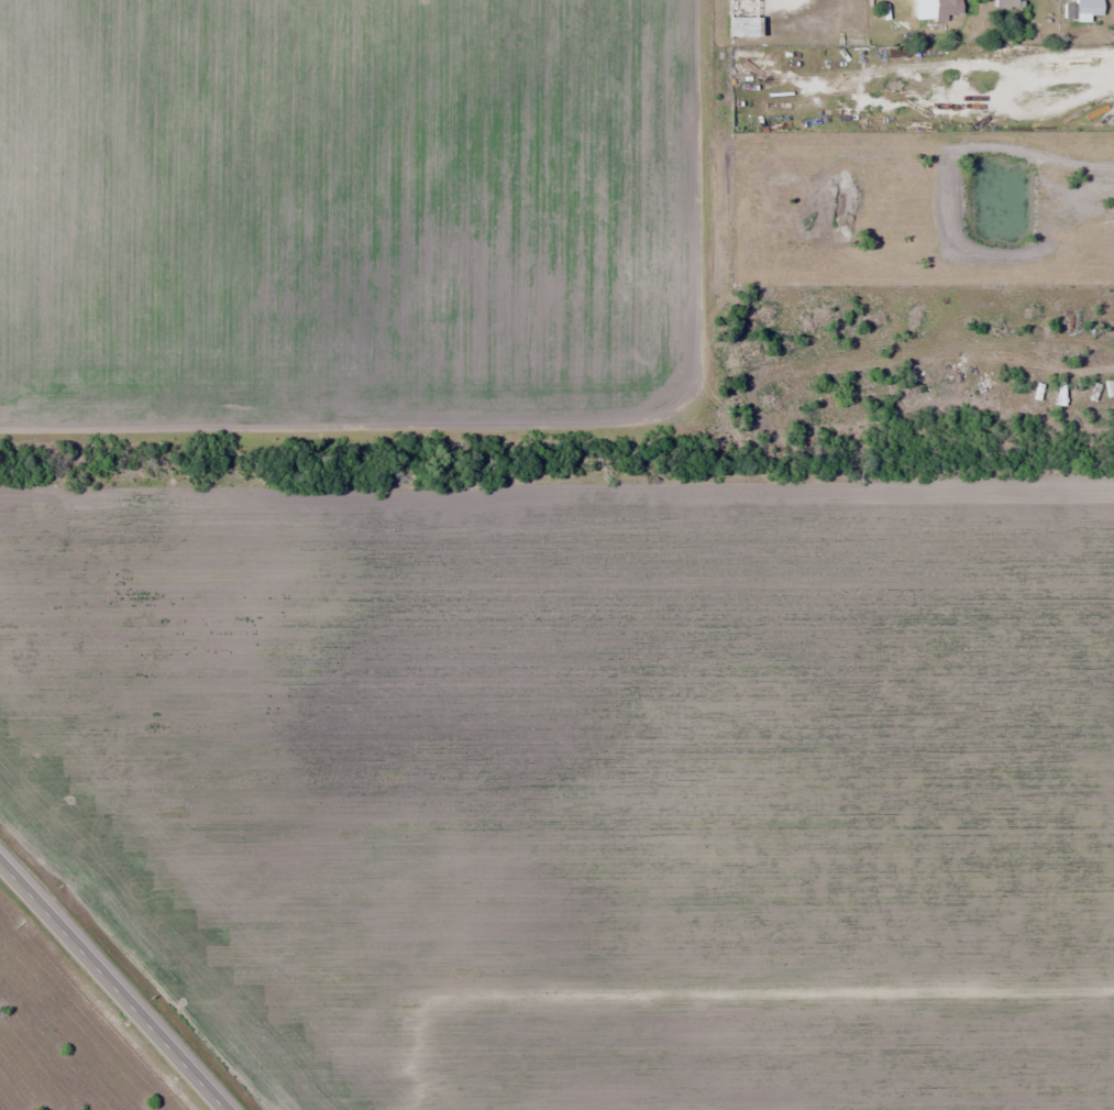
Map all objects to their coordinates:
building: (937, 8)
building: (1081, 9)
road: (112, 987)

